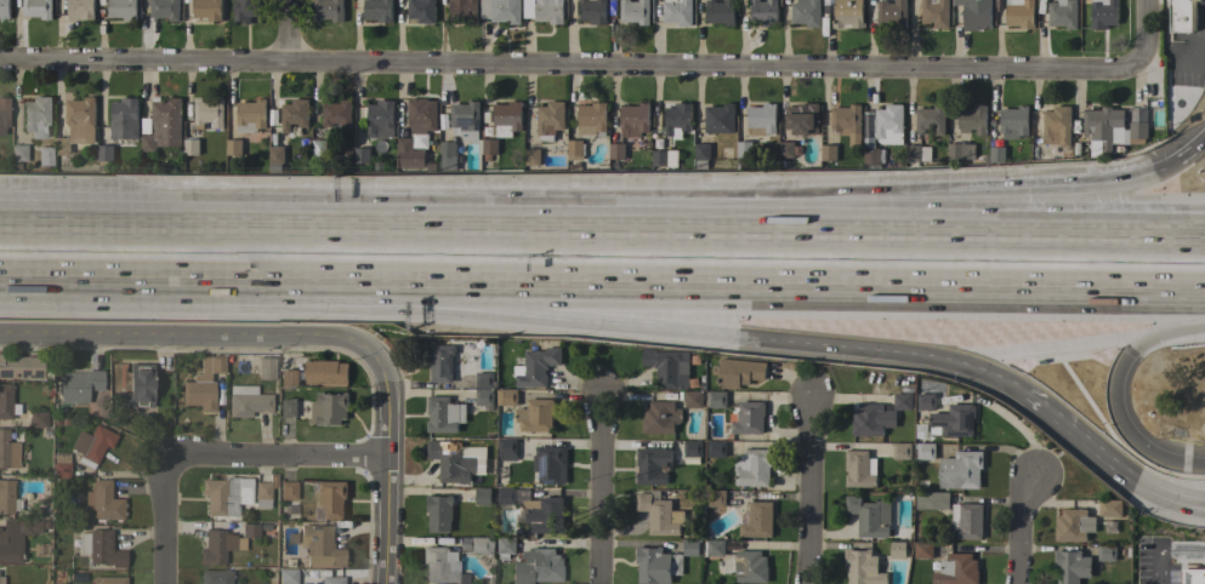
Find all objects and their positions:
building: (38, 8)
building: (81, 8)
building: (123, 8)
building: (164, 8)
building: (4, 10)
building: (206, 10)
building: (328, 10)
building: (377, 10)
building: (501, 10)
building: (243, 11)
building: (421, 11)
building: (462, 11)
building: (544, 11)
building: (592, 11)
building: (635, 11)
building: (677, 11)
building: (720, 12)
building: (763, 12)
building: (934, 12)
building: (806, 13)
building: (847, 13)
building: (891, 13)
building: (1019, 13)
building: (1062, 13)
building: (1103, 13)
building: (976, 15)
building: (1183, 16)
road: (288, 33)
road: (1142, 36)
road: (1197, 44)
road: (570, 68)
building: (4, 111)
building: (209, 113)
building: (294, 114)
building: (337, 114)
building: (250, 115)
building: (762, 116)
building: (506, 118)
building: (677, 118)
building: (124, 119)
building: (380, 119)
building: (592, 119)
building: (633, 119)
building: (720, 119)
building: (802, 119)
building: (465, 120)
building: (550, 120)
building: (930, 120)
building: (973, 120)
building: (847, 122)
building: (1013, 122)
building: (39, 124)
building: (78, 124)
rooftop solar panel: (467, 124)
building: (888, 124)
building: (163, 125)
rooftop solar panel: (477, 125)
building: (1057, 126)
building: (1103, 128)
building: (1137, 130)
building: (416, 132)
building: (191, 147)
building: (233, 147)
building: (488, 147)
building: (318, 148)
road: (1199, 148)
building: (786, 149)
building: (575, 150)
building: (616, 150)
building: (745, 150)
building: (960, 150)
building: (18, 151)
building: (828, 153)
building: (275, 155)
building: (362, 155)
building: (448, 155)
building: (700, 155)
building: (916, 155)
building: (994, 155)
building: (103, 156)
building: (532, 156)
building: (664, 158)
building: (871, 158)
road: (1105, 191)
road: (731, 213)
road: (548, 230)
road: (1152, 230)
road: (1152, 239)
railway: (602, 259)
road: (72, 277)
road: (675, 284)
road: (533, 319)
road: (1064, 332)
road: (191, 338)
road: (989, 357)
building: (440, 362)
building: (21, 366)
building: (266, 367)
building: (538, 367)
building: (667, 367)
rooftop solar panel: (24, 372)
building: (325, 372)
building: (739, 372)
rooftop solar panel: (4, 373)
building: (289, 378)
building: (484, 380)
building: (76, 384)
building: (203, 384)
building: (138, 387)
road: (1142, 393)
building: (484, 396)
building: (506, 397)
building: (693, 399)
building: (717, 400)
building: (6, 401)
building: (246, 401)
building: (926, 402)
building: (288, 407)
building: (329, 408)
building: (444, 414)
road: (1079, 414)
building: (535, 416)
building: (877, 416)
building: (660, 417)
building: (38, 418)
building: (748, 418)
building: (953, 420)
building: (91, 443)
building: (507, 448)
building: (692, 448)
building: (716, 448)
building: (7, 450)
building: (900, 451)
building: (925, 451)
road: (273, 459)
building: (453, 462)
building: (61, 464)
building: (550, 464)
building: (652, 465)
building: (754, 468)
building: (859, 469)
road: (381, 470)
building: (960, 470)
road: (1154, 473)
road: (599, 488)
building: (288, 489)
road: (806, 489)
building: (262, 493)
building: (6, 496)
building: (221, 496)
building: (482, 496)
building: (506, 496)
building: (330, 498)
building: (716, 499)
building: (932, 500)
building: (102, 502)
building: (1109, 508)
building: (44, 511)
building: (438, 513)
building: (659, 514)
building: (541, 516)
building: (869, 516)
road: (163, 520)
building: (758, 520)
building: (966, 521)
building: (1073, 525)
road: (1018, 529)
building: (257, 531)
building: (16, 538)
building: (319, 545)
building: (483, 545)
building: (506, 545)
building: (216, 546)
building: (690, 546)
road: (1180, 546)
building: (100, 548)
building: (898, 549)
building: (922, 550)
building: (1107, 552)
building: (740, 562)
building: (440, 565)
building: (657, 565)
road: (1153, 565)
building: (536, 566)
building: (1072, 566)
building: (863, 567)
building: (956, 569)
building: (215, 576)
building: (288, 576)
building: (1193, 576)
building: (1, 579)
building: (109, 580)
building: (329, 580)

